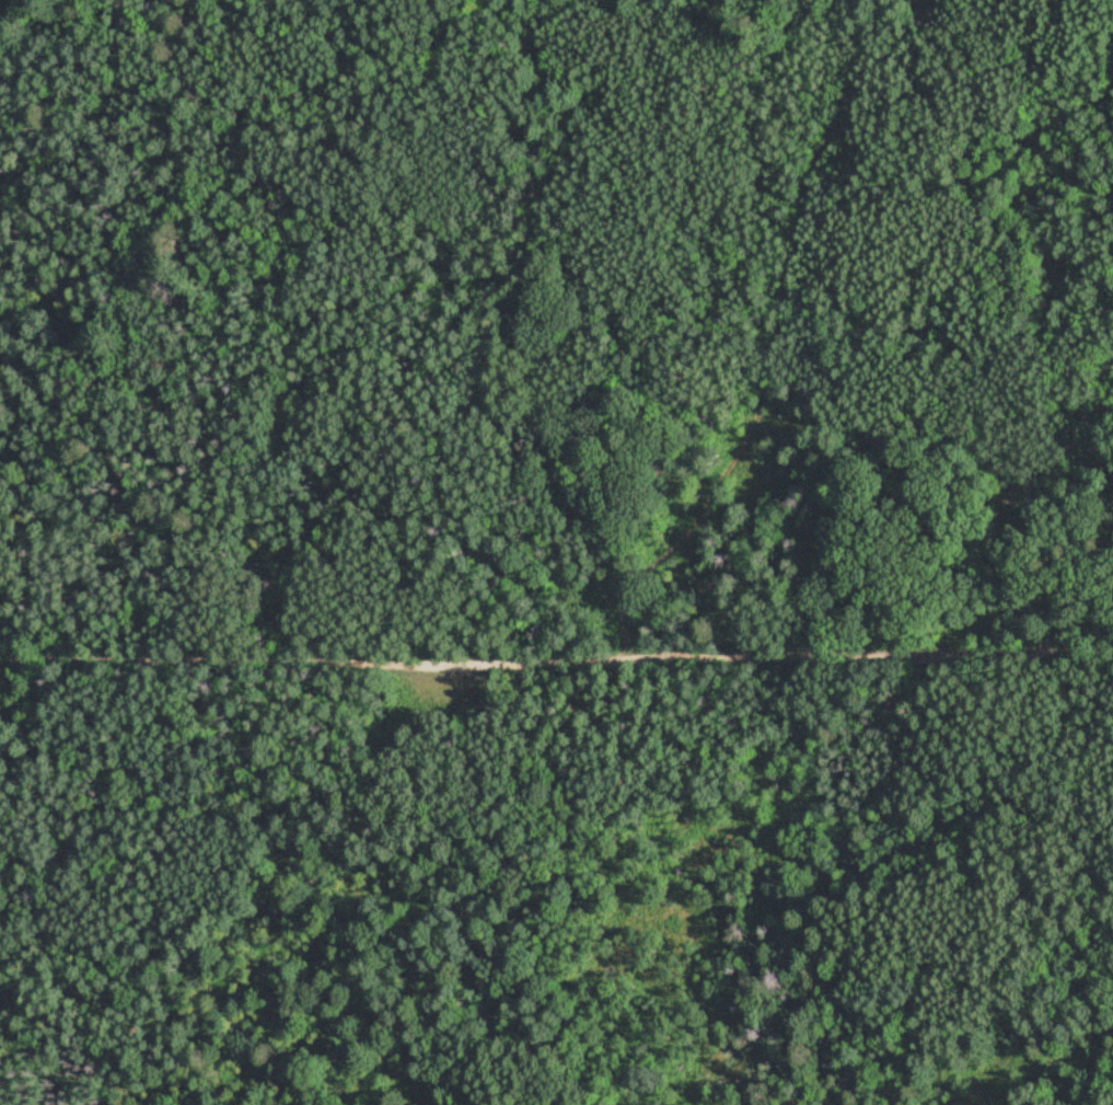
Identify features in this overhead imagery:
road: (556, 658)

